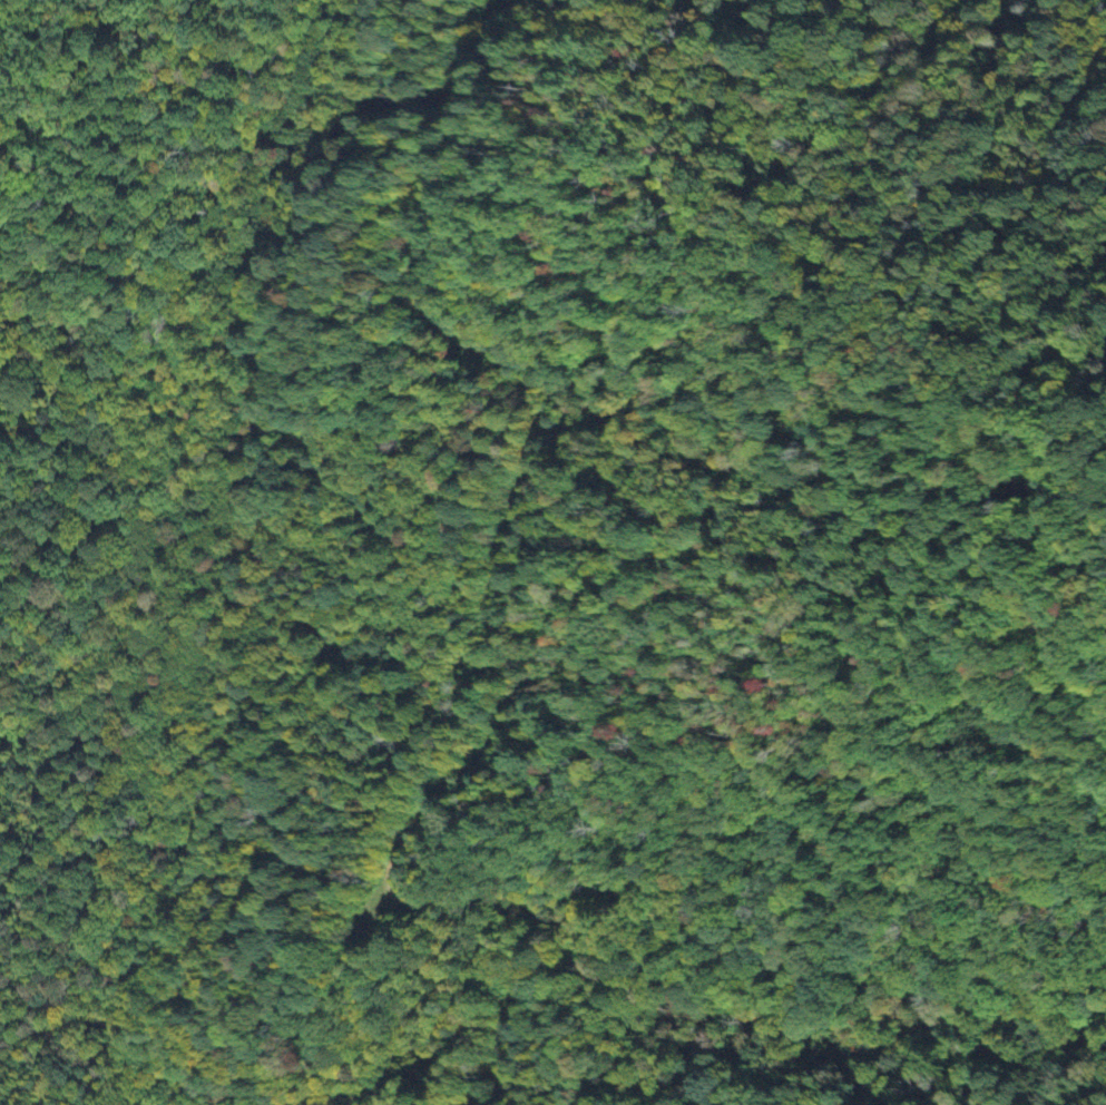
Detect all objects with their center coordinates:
road: (1030, 516)

